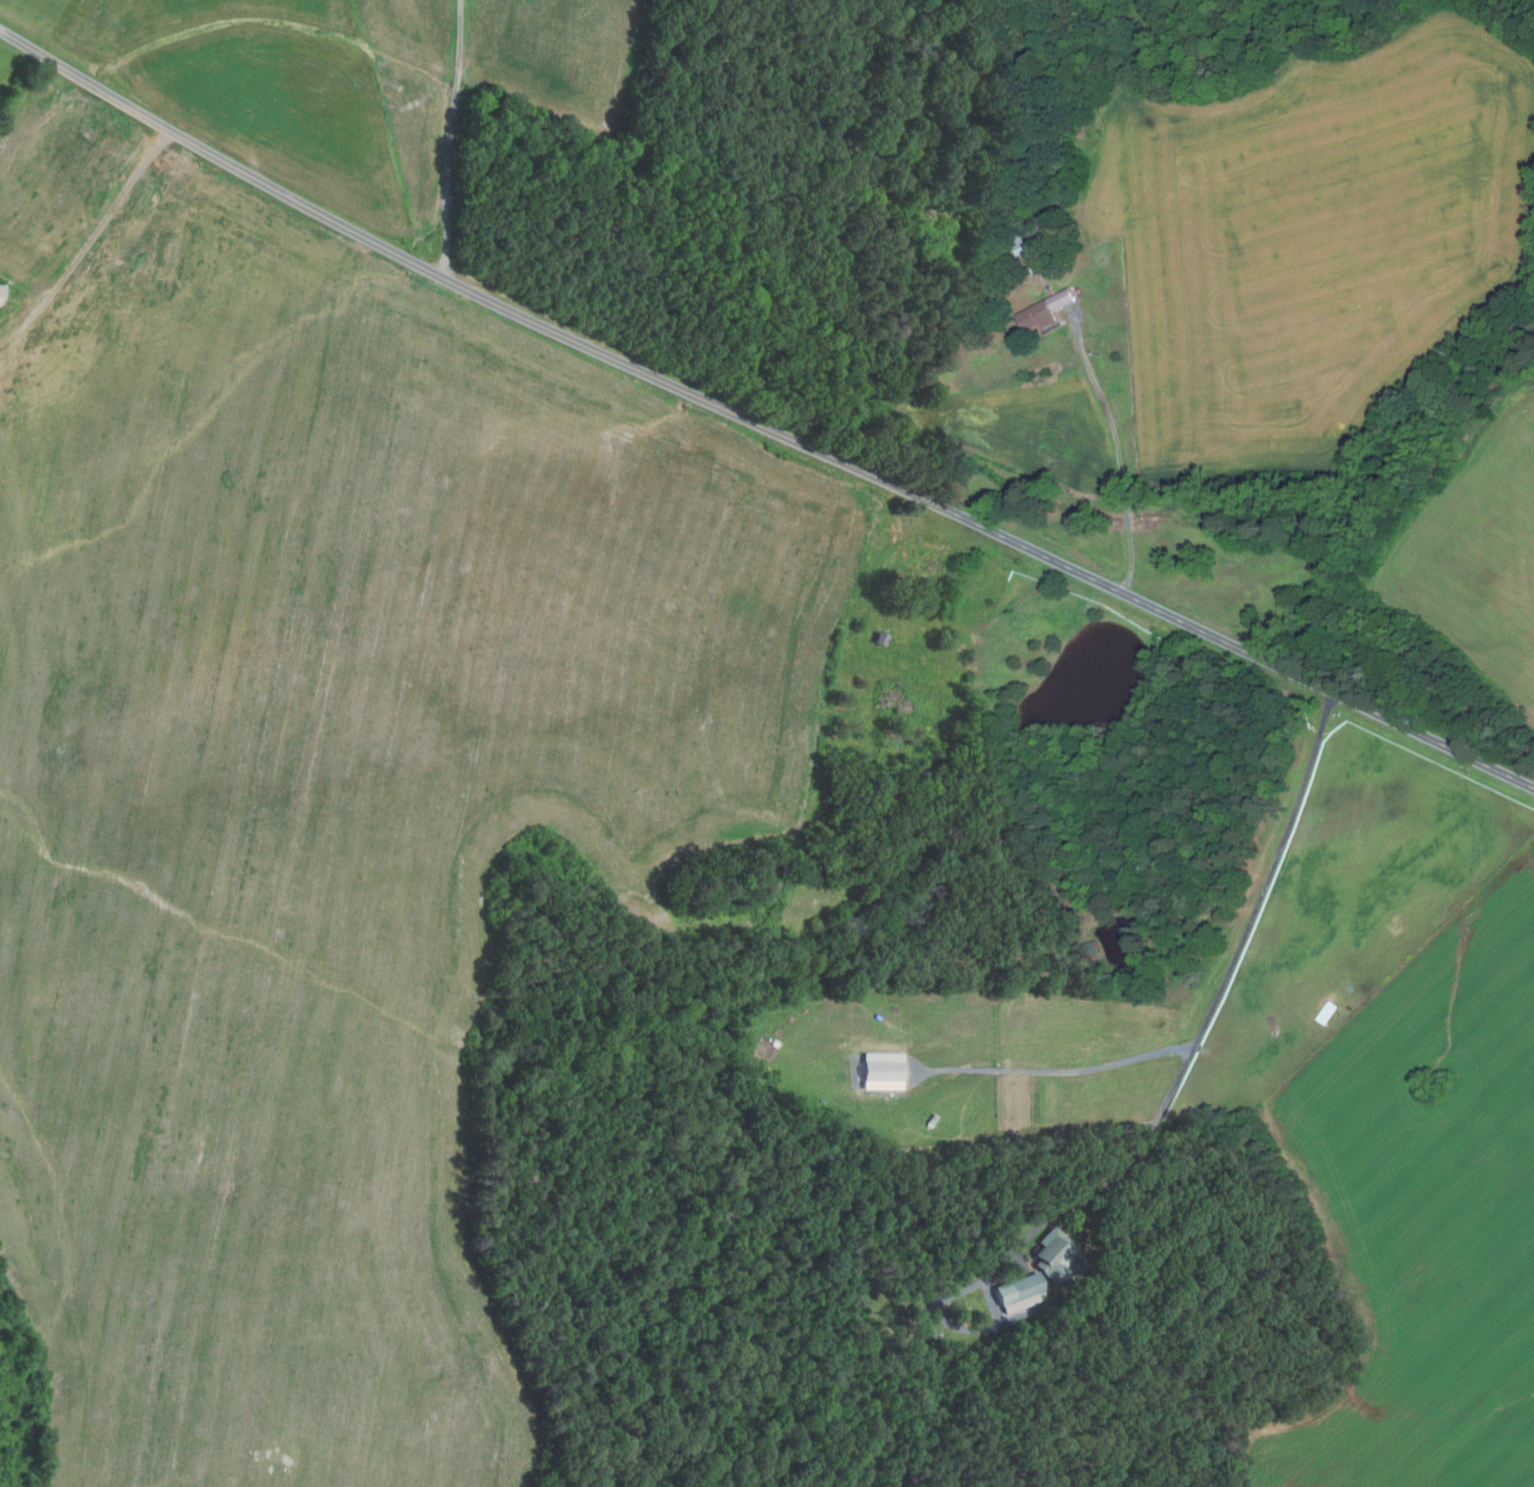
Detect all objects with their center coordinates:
road: (448, 140)
building: (1023, 256)
building: (2, 294)
building: (1047, 311)
road: (759, 424)
road: (1118, 450)
building: (878, 639)
building: (1091, 947)
road: (1215, 998)
building: (1328, 1012)
building: (881, 1070)
building: (932, 1118)
building: (1052, 1254)
building: (1018, 1292)

